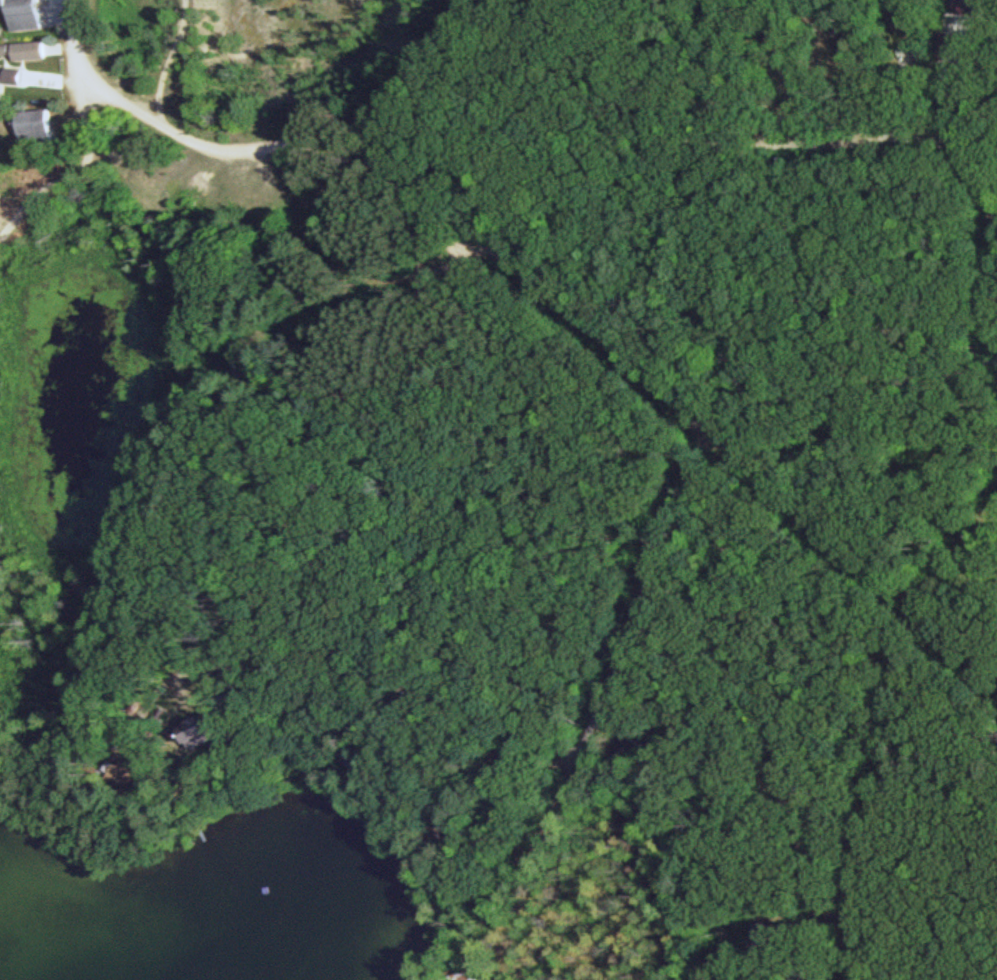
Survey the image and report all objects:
building: (30, 13)
building: (37, 49)
building: (43, 121)
road: (724, 143)
road: (247, 148)
road: (83, 171)
road: (345, 454)
road: (665, 564)
road: (614, 764)
road: (825, 826)
building: (766, 935)
building: (469, 974)

